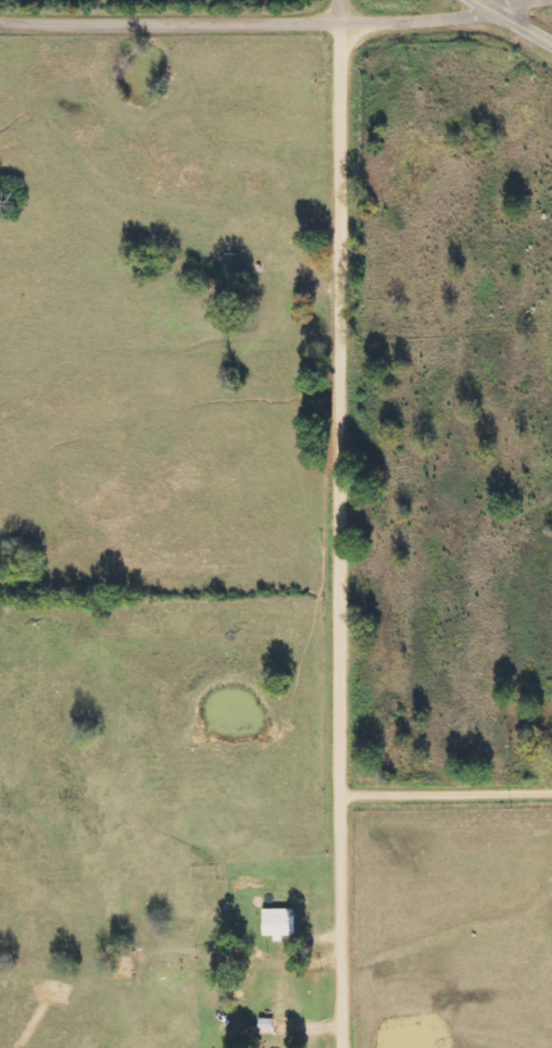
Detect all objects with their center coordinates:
road: (545, 0)
road: (486, 14)
road: (516, 20)
road: (215, 22)
road: (338, 524)
road: (444, 791)
building: (277, 923)

